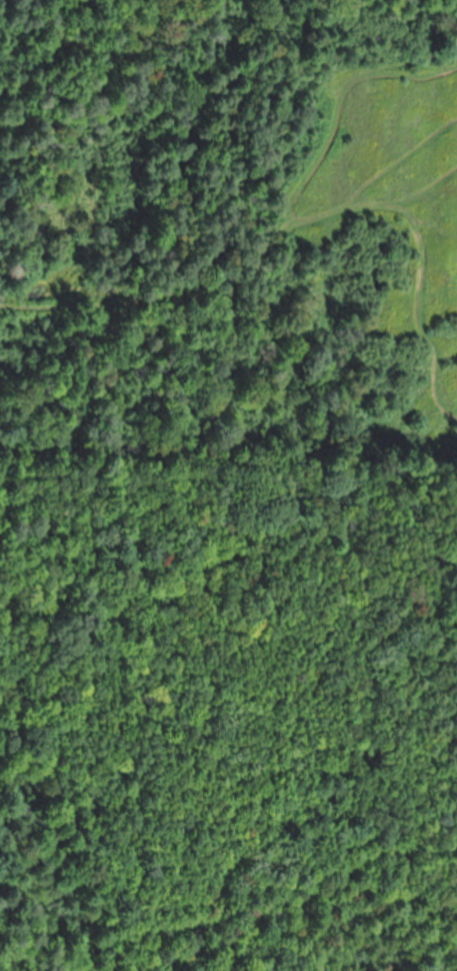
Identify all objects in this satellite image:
airport: (228, 714)

